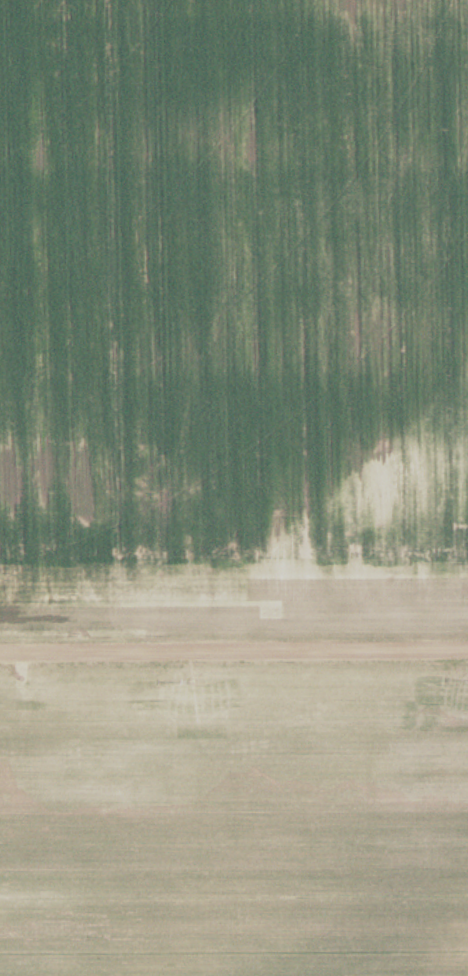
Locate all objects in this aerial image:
road: (234, 653)

